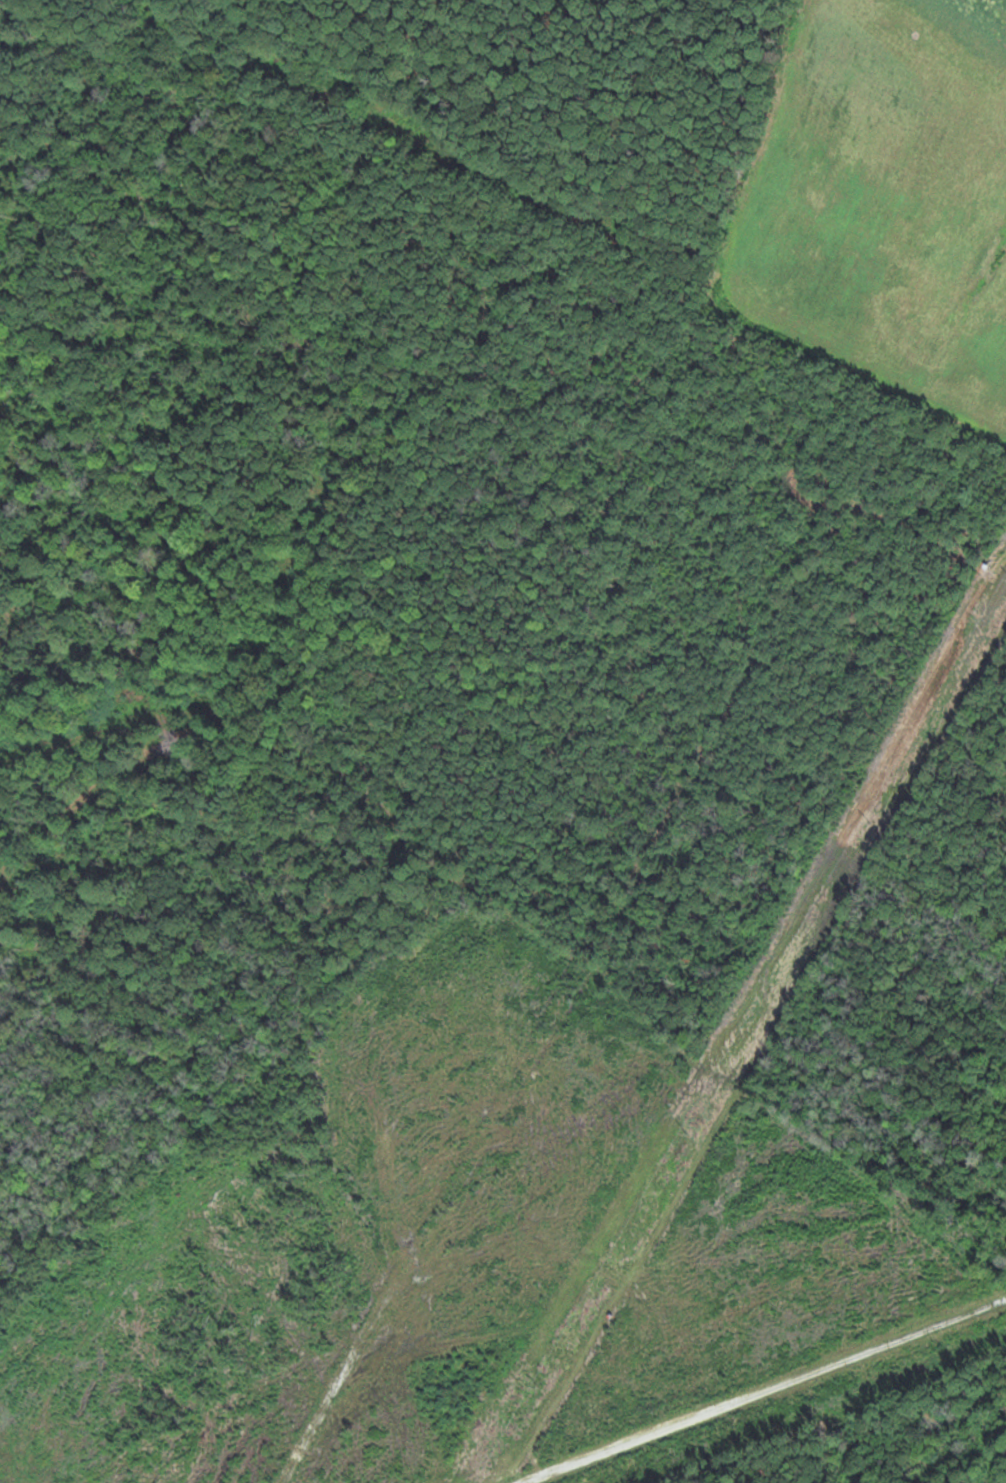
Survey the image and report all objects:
road: (764, 1390)

